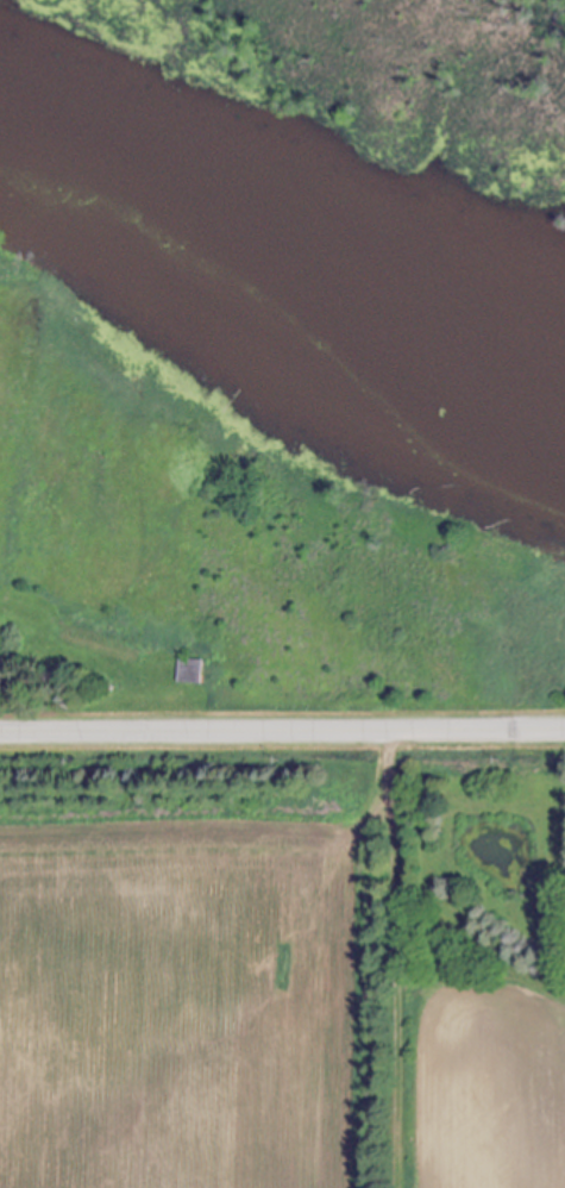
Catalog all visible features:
river: (282, 240)
building: (195, 673)
road: (282, 731)

